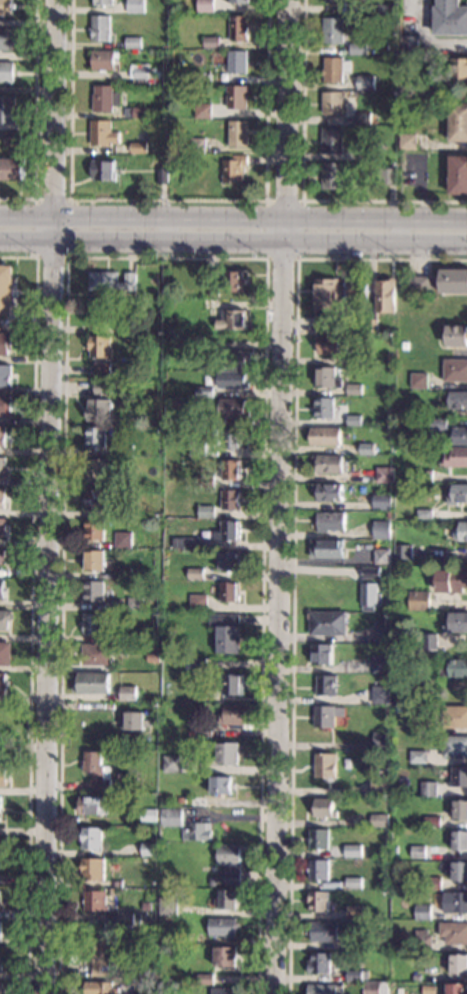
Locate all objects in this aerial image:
building: (237, 1)
building: (338, 1)
building: (102, 2)
building: (211, 6)
building: (5, 7)
building: (135, 7)
building: (383, 10)
building: (450, 18)
building: (99, 28)
building: (238, 28)
building: (333, 31)
building: (6, 39)
road: (425, 40)
building: (132, 42)
building: (211, 42)
building: (409, 44)
building: (357, 49)
building: (102, 60)
building: (236, 62)
building: (335, 69)
building: (457, 69)
building: (6, 72)
building: (144, 75)
building: (209, 77)
building: (365, 83)
building: (427, 90)
building: (236, 97)
building: (104, 98)
building: (332, 103)
building: (423, 104)
building: (7, 108)
building: (202, 111)
building: (135, 112)
road: (35, 117)
building: (362, 118)
building: (458, 122)
building: (102, 133)
building: (238, 133)
building: (11, 138)
building: (332, 140)
building: (408, 141)
building: (197, 146)
building: (138, 147)
building: (1, 150)
building: (364, 151)
building: (406, 156)
building: (11, 169)
building: (233, 169)
building: (102, 170)
building: (162, 175)
building: (332, 175)
building: (458, 175)
building: (388, 176)
road: (303, 182)
road: (69, 200)
road: (168, 200)
road: (298, 202)
road: (233, 218)
road: (233, 237)
road: (166, 258)
building: (110, 281)
building: (233, 281)
building: (454, 281)
building: (418, 285)
building: (213, 288)
building: (357, 289)
building: (6, 290)
building: (326, 294)
building: (386, 295)
building: (210, 304)
building: (97, 311)
building: (346, 313)
building: (232, 320)
building: (322, 325)
building: (123, 326)
building: (373, 326)
building: (457, 336)
building: (5, 343)
building: (332, 344)
building: (405, 345)
building: (100, 347)
building: (190, 351)
building: (235, 359)
building: (353, 360)
building: (103, 368)
building: (455, 370)
building: (5, 375)
building: (327, 378)
building: (233, 380)
building: (419, 380)
building: (103, 388)
building: (354, 389)
building: (204, 392)
building: (458, 401)
building: (5, 405)
building: (234, 408)
building: (324, 408)
building: (100, 410)
building: (408, 412)
building: (353, 420)
building: (167, 421)
building: (408, 423)
building: (438, 425)
building: (369, 430)
building: (460, 435)
building: (325, 436)
building: (3, 437)
building: (97, 438)
building: (232, 438)
building: (198, 448)
building: (367, 448)
building: (126, 450)
building: (457, 458)
building: (115, 460)
building: (328, 464)
building: (3, 468)
building: (96, 469)
building: (231, 470)
building: (385, 475)
building: (424, 476)
building: (120, 481)
building: (206, 481)
building: (400, 487)
building: (330, 493)
building: (457, 494)
road: (52, 496)
road: (283, 497)
building: (3, 498)
building: (231, 499)
building: (96, 500)
building: (382, 501)
building: (123, 512)
building: (207, 512)
building: (387, 513)
building: (424, 514)
building: (330, 521)
building: (2, 527)
building: (95, 529)
building: (381, 529)
building: (228, 531)
building: (461, 532)
building: (124, 539)
road: (293, 541)
building: (185, 544)
building: (327, 549)
building: (403, 552)
building: (381, 556)
building: (3, 557)
building: (95, 560)
building: (230, 561)
building: (371, 572)
building: (123, 573)
building: (196, 573)
building: (451, 582)
building: (3, 589)
building: (94, 591)
building: (230, 592)
building: (369, 597)
building: (418, 600)
building: (198, 602)
building: (136, 603)
road: (32, 607)
building: (5, 620)
building: (93, 623)
building: (327, 623)
building: (456, 623)
building: (226, 632)
building: (383, 634)
building: (429, 645)
building: (5, 653)
building: (97, 654)
building: (320, 654)
building: (154, 657)
building: (380, 663)
building: (198, 664)
building: (187, 666)
building: (453, 667)
building: (342, 680)
building: (3, 683)
building: (92, 683)
building: (232, 685)
building: (325, 685)
building: (414, 687)
building: (128, 693)
building: (380, 694)
building: (396, 699)
building: (156, 711)
building: (234, 714)
building: (327, 716)
building: (454, 717)
building: (136, 721)
building: (418, 727)
building: (203, 732)
building: (190, 734)
building: (381, 741)
building: (454, 747)
building: (227, 753)
building: (364, 756)
building: (417, 757)
building: (172, 764)
building: (324, 765)
building: (97, 770)
building: (2, 775)
building: (458, 777)
building: (221, 785)
building: (379, 787)
building: (428, 789)
building: (182, 800)
building: (0, 802)
building: (197, 802)
building: (94, 805)
building: (321, 808)
building: (460, 809)
building: (148, 815)
building: (171, 818)
building: (378, 820)
building: (431, 822)
building: (197, 832)
building: (91, 838)
building: (319, 839)
building: (459, 840)
building: (394, 848)
building: (149, 849)
building: (352, 851)
building: (418, 852)
building: (0, 856)
building: (228, 865)
building: (93, 869)
building: (318, 870)
building: (459, 871)
building: (353, 882)
building: (432, 883)
building: (115, 884)
building: (161, 892)
building: (228, 898)
building: (95, 901)
building: (318, 901)
building: (455, 903)
building: (168, 906)
building: (354, 911)
building: (422, 912)
building: (125, 918)
building: (155, 918)
building: (222, 927)
building: (322, 931)
building: (1, 932)
building: (453, 932)
building: (364, 941)
building: (420, 941)
building: (354, 943)
building: (393, 947)
building: (225, 956)
building: (97, 958)
building: (319, 963)
building: (458, 964)
building: (1, 966)
building: (354, 975)
building: (415, 976)
building: (204, 978)
building: (0, 986)
building: (100, 987)
building: (375, 988)
building: (325, 989)
building: (456, 989)
building: (223, 990)

